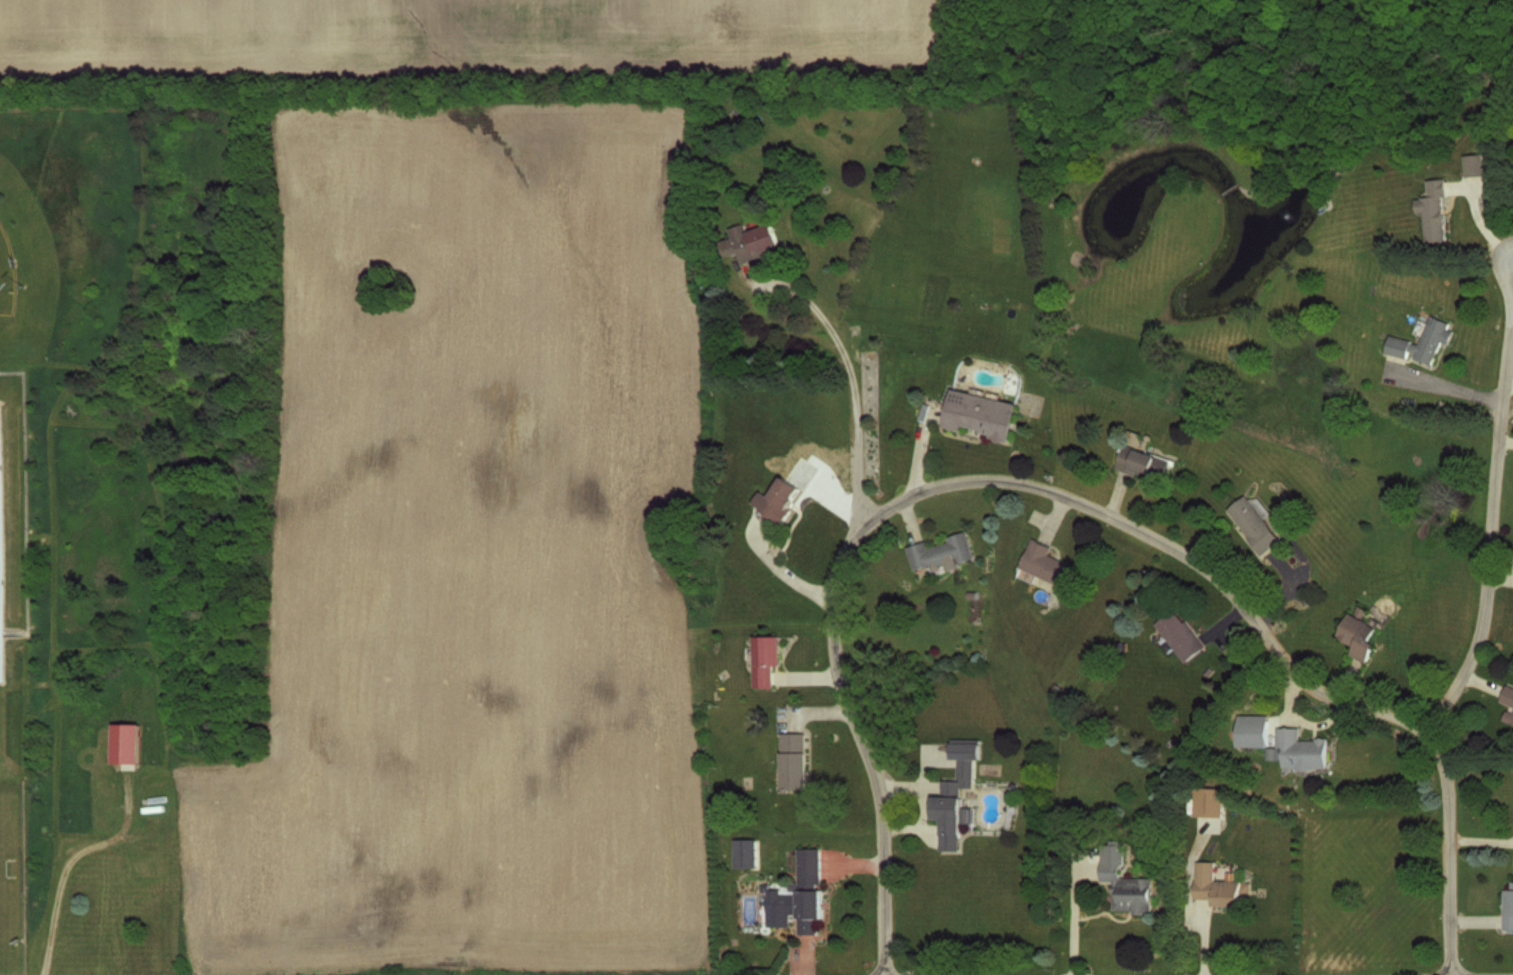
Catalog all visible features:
crop: (469, 43)
building: (1473, 165)
building: (1432, 212)
building: (750, 242)
road: (1495, 261)
park: (5, 273)
road: (791, 286)
building: (1421, 340)
road: (1449, 384)
road: (1509, 384)
building: (978, 413)
building: (1144, 463)
building: (779, 499)
road: (23, 501)
building: (1253, 523)
road: (1493, 531)
road: (1161, 538)
crop: (479, 547)
building: (940, 552)
building: (1045, 563)
road: (782, 572)
building: (1357, 633)
building: (1179, 634)
building: (765, 659)
road: (836, 660)
building: (0, 669)
building: (1507, 701)
building: (123, 741)
building: (1298, 750)
building: (792, 759)
building: (952, 803)
road: (1482, 840)
road: (1452, 844)
road: (67, 864)
building: (150, 866)
building: (1214, 885)
building: (1126, 889)
building: (804, 893)
building: (1508, 908)
road: (1078, 912)

